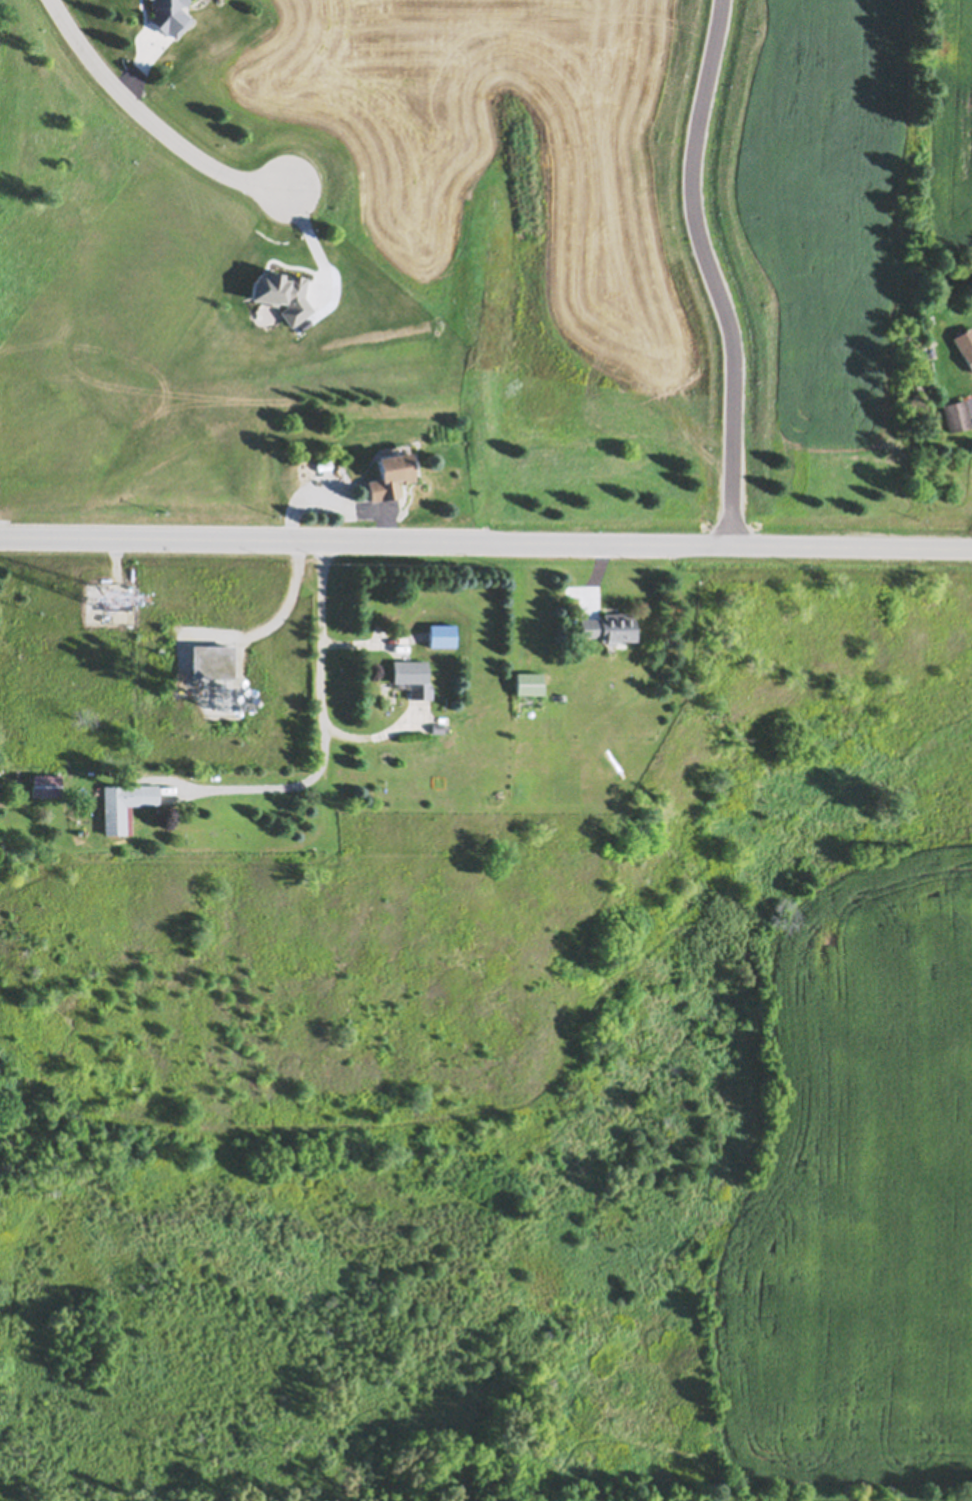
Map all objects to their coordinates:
road: (150, 119)
road: (721, 272)
building: (968, 354)
building: (957, 415)
building: (323, 464)
building: (390, 476)
road: (486, 543)
building: (120, 605)
building: (609, 627)
building: (211, 662)
building: (413, 677)
building: (529, 683)
building: (439, 727)
road: (322, 728)
building: (200, 772)
building: (46, 785)
building: (124, 804)

